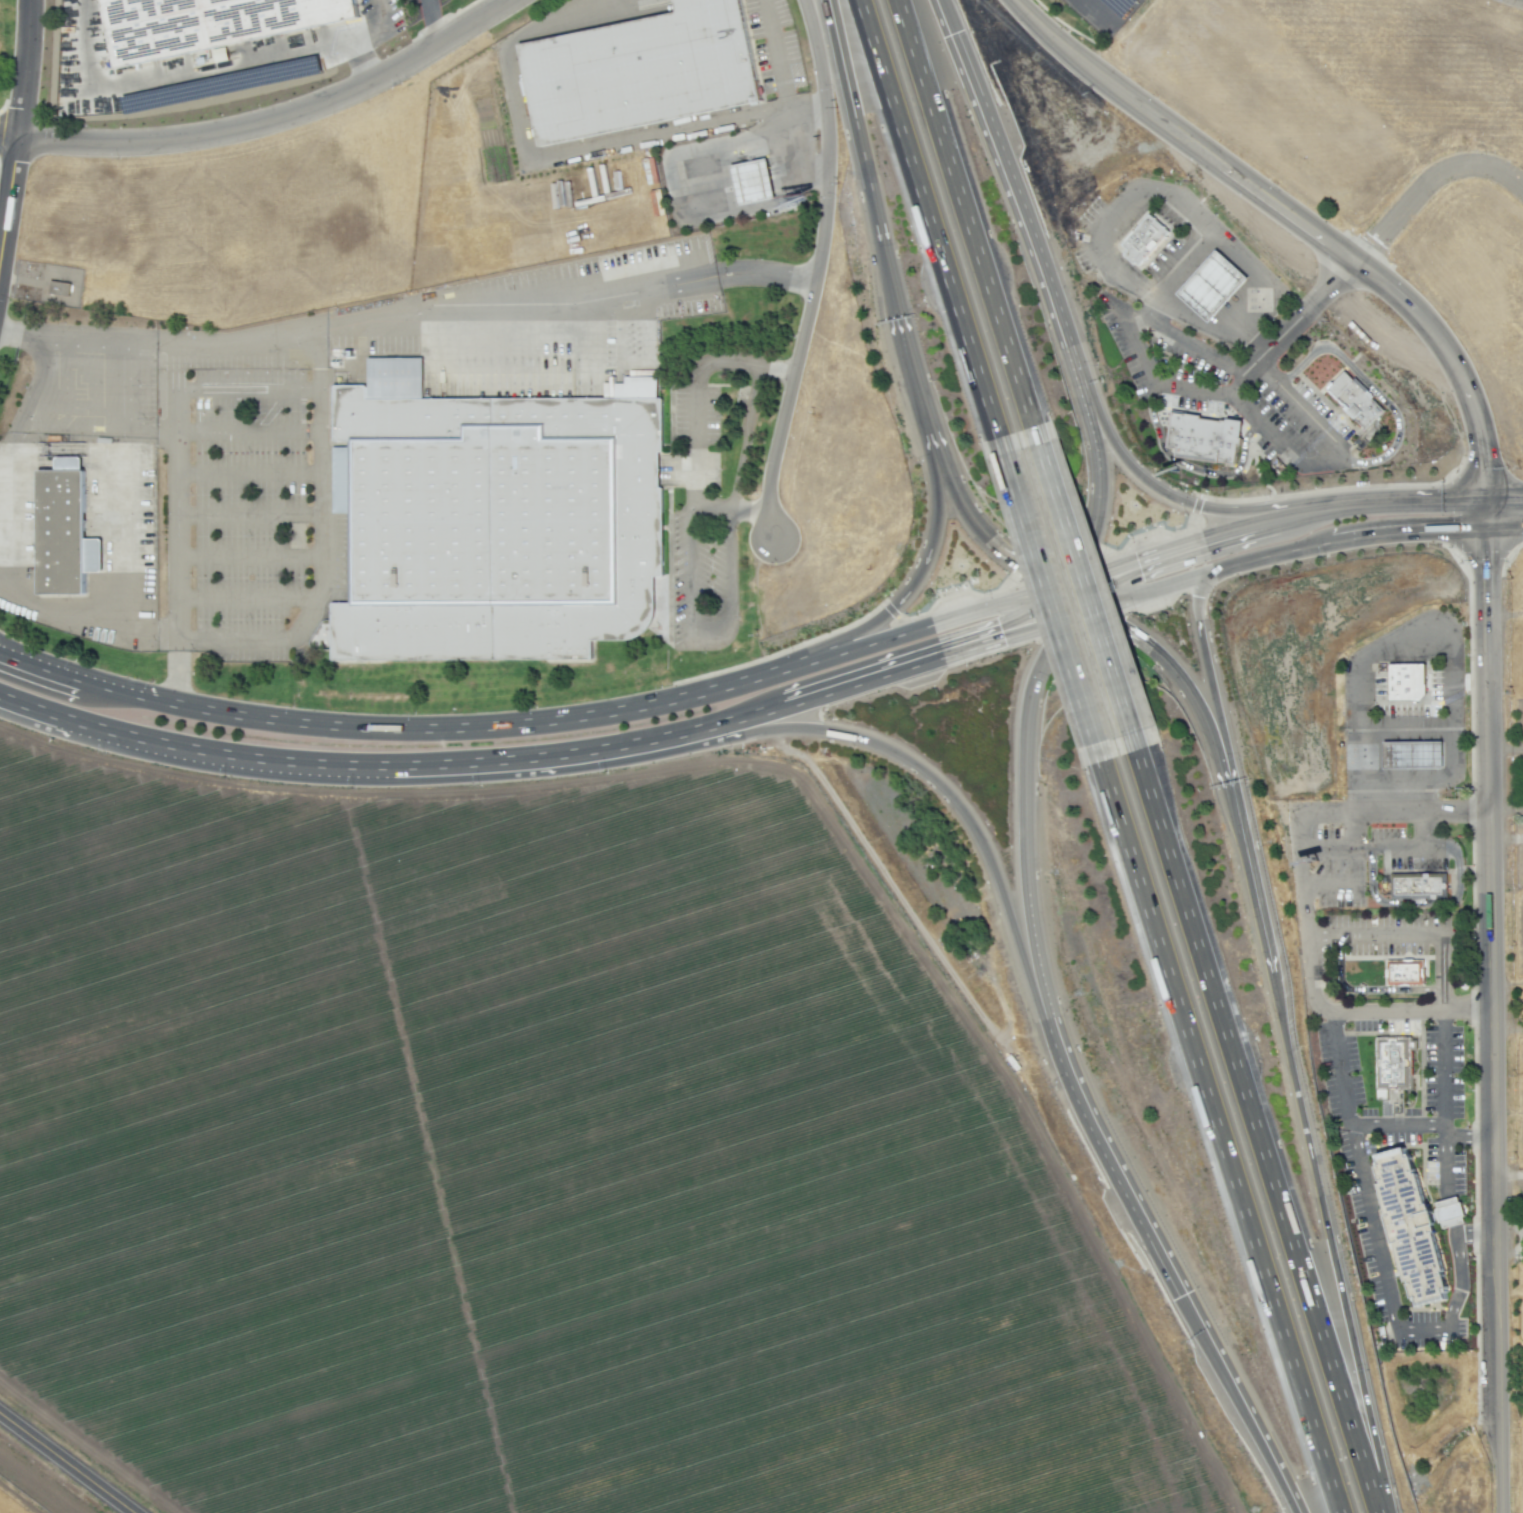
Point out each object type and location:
road: (86, 9)
building: (201, 23)
road: (431, 23)
road: (361, 40)
road: (337, 48)
road: (27, 68)
building: (633, 68)
road: (780, 73)
road: (166, 77)
road: (1102, 79)
road: (276, 120)
road: (10, 134)
road: (863, 152)
building: (752, 182)
road: (1426, 183)
road: (10, 189)
road: (674, 195)
road: (1273, 205)
road: (970, 210)
road: (925, 216)
road: (1196, 224)
building: (1147, 243)
road: (810, 269)
road: (1253, 277)
building: (72, 285)
building: (1214, 294)
road: (1397, 297)
building: (1261, 302)
road: (482, 309)
road: (1049, 315)
road: (1172, 339)
road: (76, 341)
road: (916, 379)
road: (247, 387)
road: (1373, 390)
road: (1293, 404)
building: (1356, 405)
road: (1472, 416)
road: (692, 429)
road: (247, 431)
road: (1104, 434)
building: (1212, 442)
road: (247, 472)
road: (1502, 502)
road: (1417, 504)
road: (1283, 507)
road: (1320, 512)
road: (247, 514)
building: (490, 516)
road: (176, 527)
road: (1502, 528)
building: (65, 530)
road: (1415, 532)
road: (1199, 539)
road: (319, 544)
road: (248, 555)
road: (1003, 555)
traffic signals: (1114, 568)
road: (1184, 577)
road: (1074, 578)
road: (1087, 581)
road: (902, 587)
traffic signals: (1035, 592)
road: (1047, 595)
traffic signals: (1119, 597)
road: (245, 598)
road: (911, 629)
traffic signals: (1022, 631)
road: (707, 632)
road: (1145, 648)
road: (1202, 654)
road: (899, 668)
road: (43, 669)
building: (1410, 674)
road: (750, 675)
road: (1452, 691)
road: (745, 726)
road: (439, 730)
building: (1416, 749)
road: (191, 751)
road: (585, 753)
road: (1025, 790)
road: (1390, 814)
road: (973, 826)
road: (1248, 862)
building: (1424, 883)
road: (1439, 963)
building: (1408, 965)
road: (1316, 996)
road: (1488, 1007)
building: (1395, 1058)
road: (1420, 1126)
road: (1263, 1127)
road: (1217, 1134)
crop: (544, 1160)
road: (1507, 1173)
building: (1446, 1211)
building: (1412, 1226)
road: (1329, 1233)
road: (1376, 1256)
road: (1174, 1271)
road: (67, 1462)
road: (1299, 1506)

